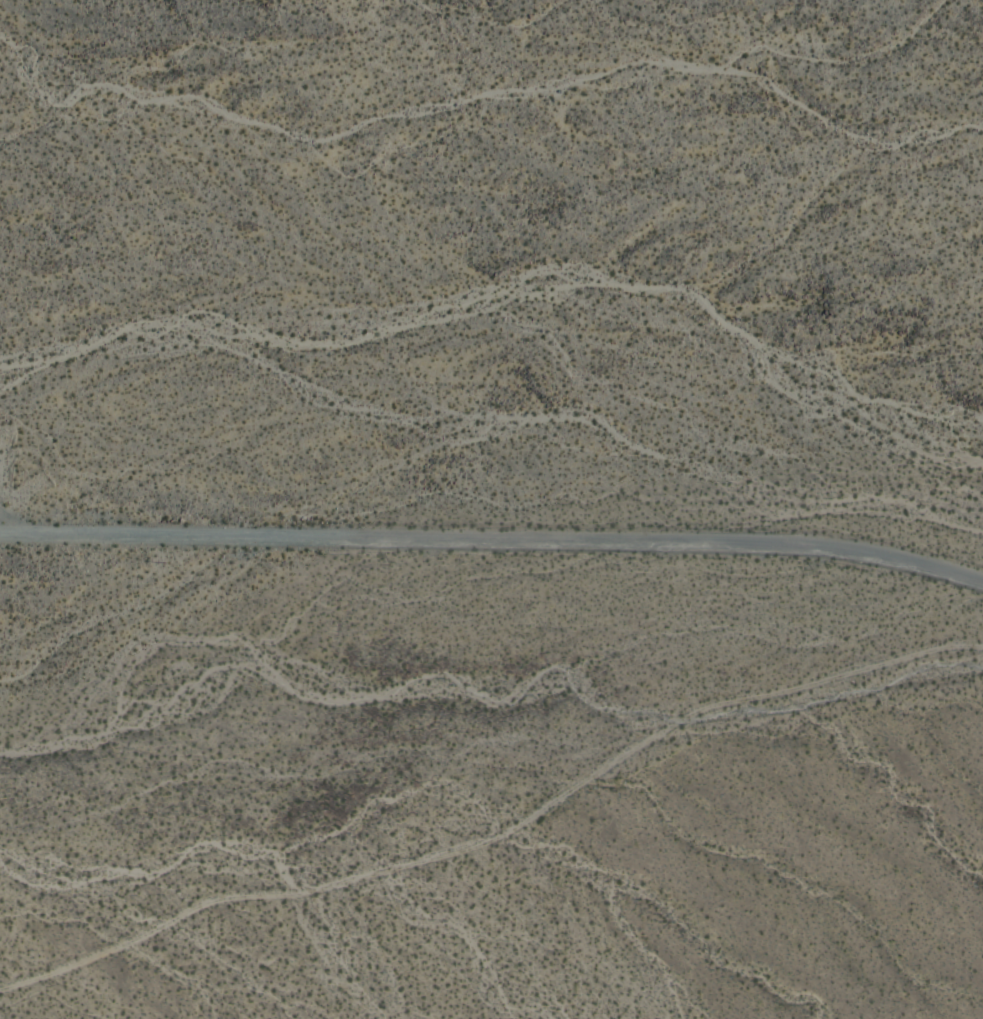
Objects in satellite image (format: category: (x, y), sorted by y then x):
road: (493, 540)
road: (500, 832)

